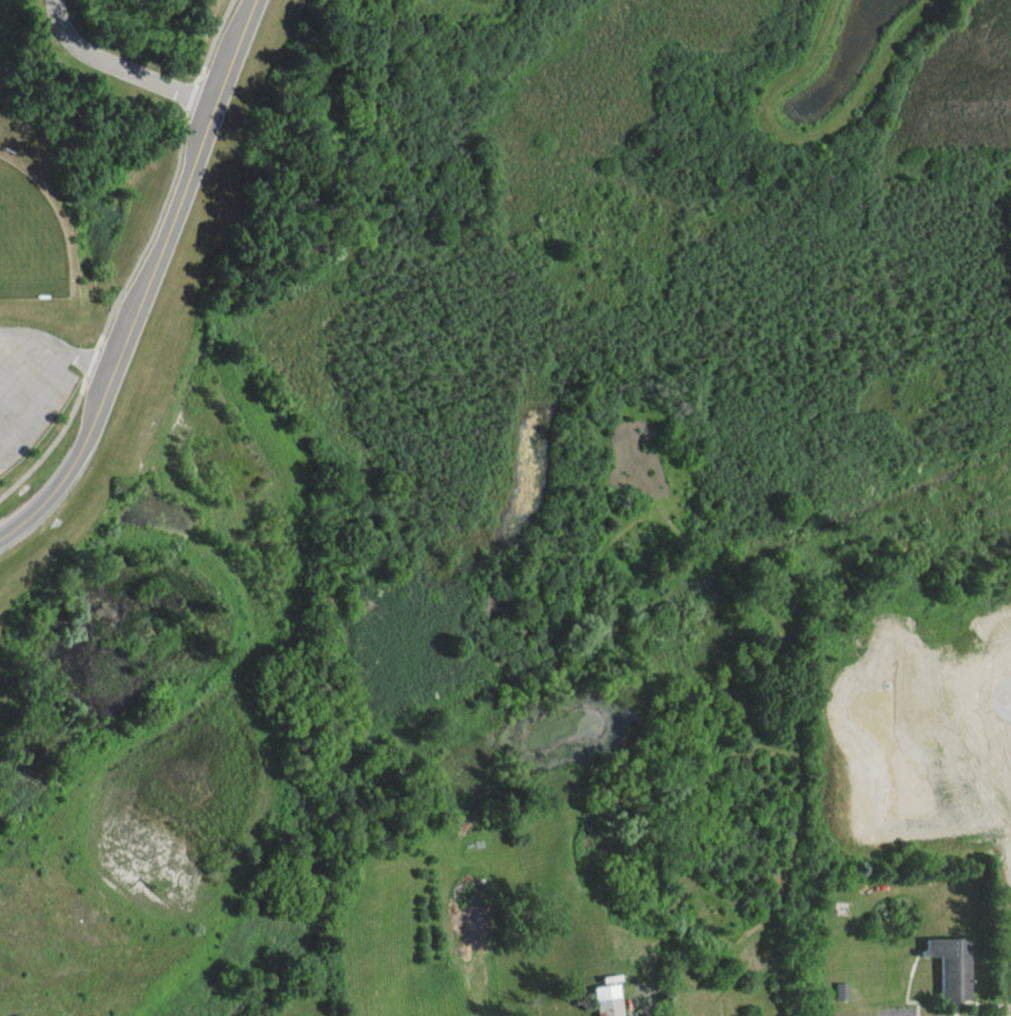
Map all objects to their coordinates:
road: (211, 35)
road: (123, 60)
road: (190, 87)
road: (147, 223)
park: (27, 231)
road: (143, 275)
road: (33, 327)
road: (16, 352)
road: (86, 352)
road: (87, 352)
parking lot: (28, 376)
road: (36, 391)
road: (50, 432)
building: (952, 957)
building: (611, 968)
building: (839, 988)
building: (607, 996)
road: (920, 1001)
road: (955, 1004)
parking lot: (900, 1007)
crop: (310, 1015)

